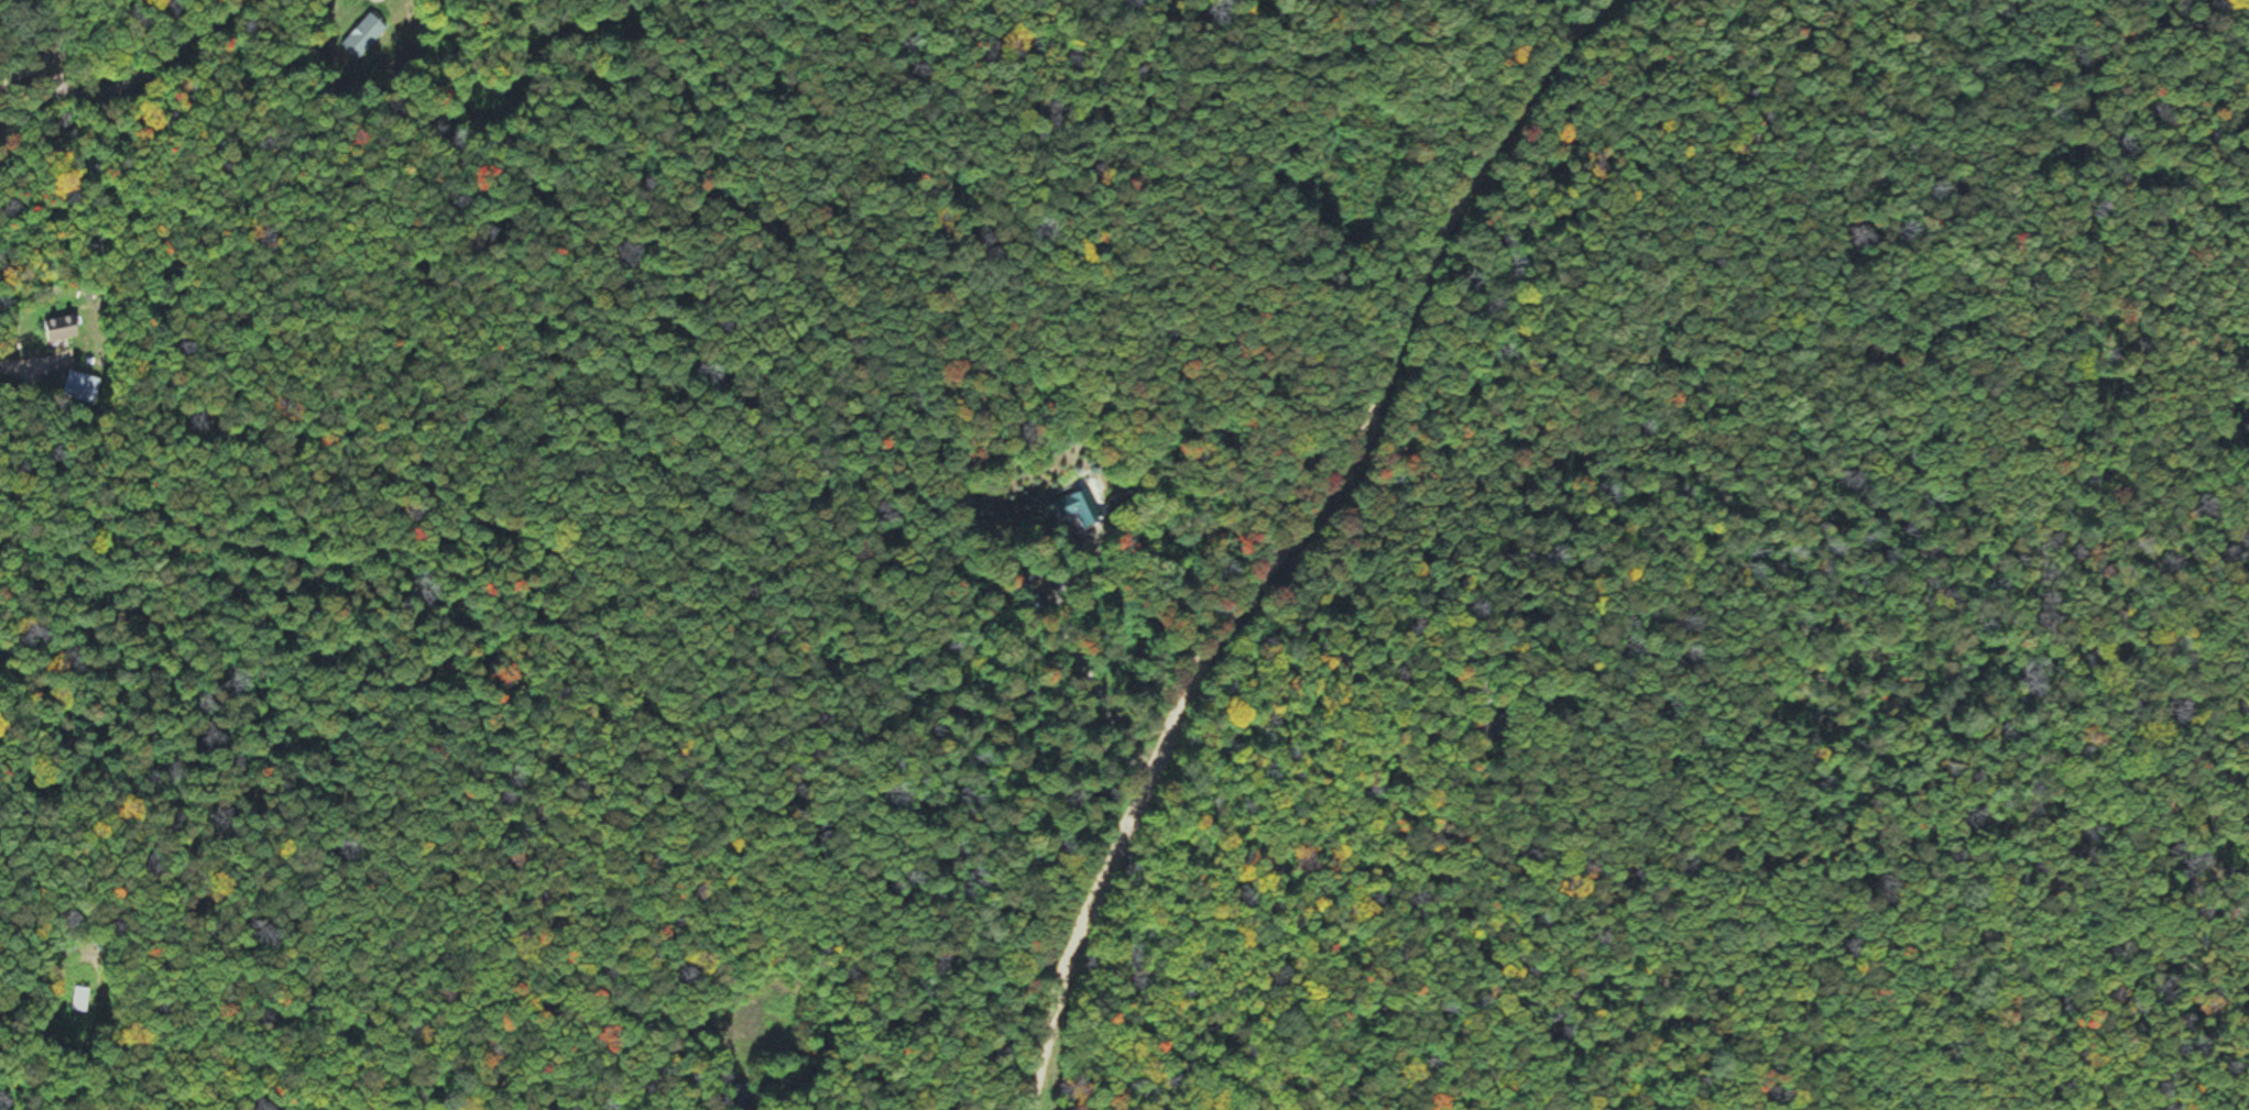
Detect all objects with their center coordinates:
building: (362, 35)
road: (37, 73)
building: (59, 327)
building: (80, 386)
building: (1077, 506)
building: (1026, 574)
building: (79, 999)

